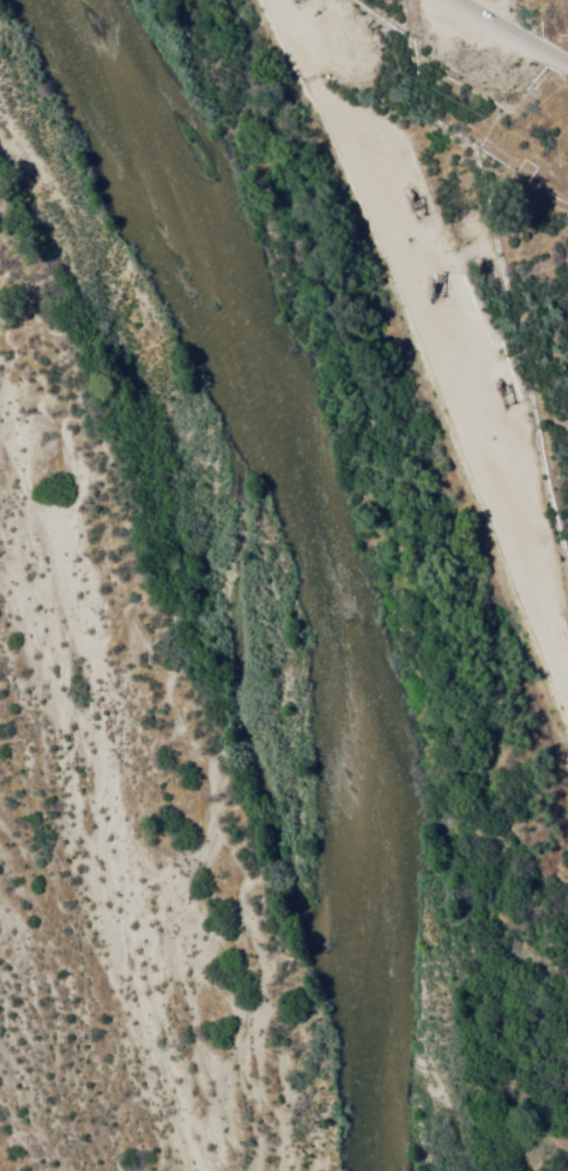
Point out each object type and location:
road: (504, 31)
road: (463, 305)
river: (265, 575)

